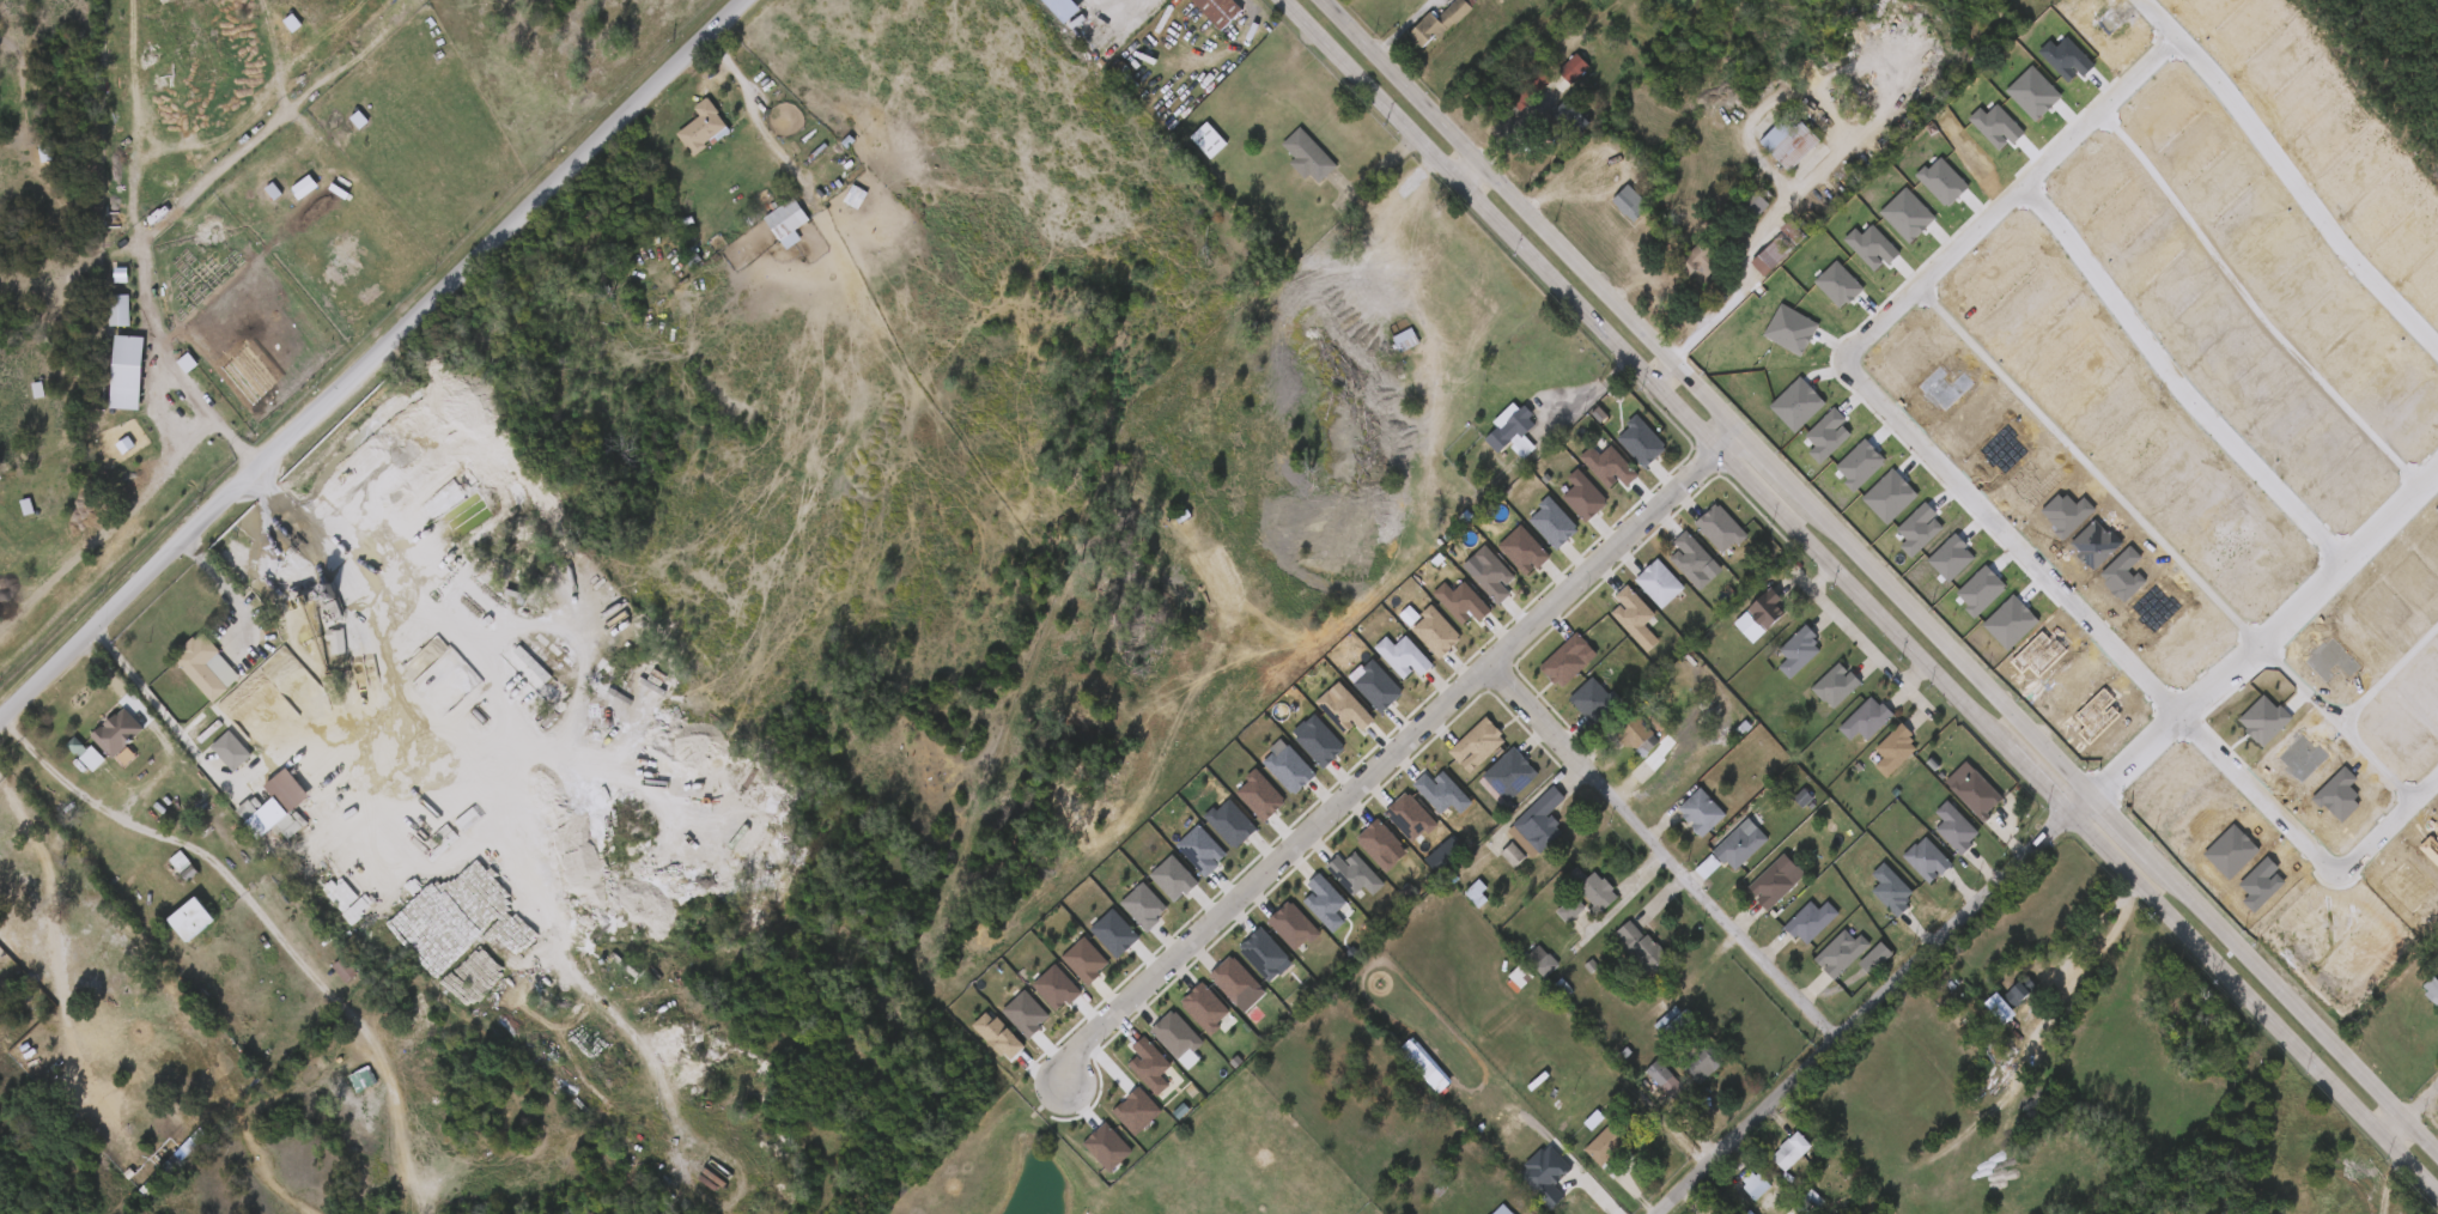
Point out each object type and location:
road: (1107, 10)
building: (1222, 10)
building: (1072, 12)
building: (1193, 16)
building: (1040, 17)
building: (1440, 23)
building: (1579, 66)
building: (1532, 87)
building: (1575, 119)
building: (703, 127)
building: (681, 139)
building: (1211, 140)
building: (1786, 141)
building: (1186, 151)
building: (1308, 154)
building: (1287, 166)
road: (1822, 169)
road: (1469, 177)
building: (1753, 204)
building: (1630, 205)
building: (786, 219)
building: (765, 232)
road: (1975, 235)
building: (1782, 247)
building: (1702, 262)
building: (98, 320)
road: (371, 363)
road: (169, 374)
road: (1661, 377)
building: (105, 383)
road: (2175, 384)
road: (1587, 401)
building: (1513, 430)
building: (1640, 438)
road: (1743, 461)
building: (1607, 463)
building: (1582, 493)
building: (1551, 520)
building: (1719, 524)
building: (1522, 546)
building: (1690, 556)
building: (1490, 571)
road: (1878, 578)
building: (1658, 581)
road: (1856, 597)
road: (2308, 602)
road: (360, 607)
building: (1764, 607)
building: (1631, 611)
building: (1437, 621)
building: (1796, 650)
building: (1567, 657)
building: (208, 666)
building: (1381, 667)
building: (186, 676)
building: (1834, 685)
building: (1356, 697)
building: (1715, 705)
road: (159, 708)
building: (87, 709)
building: (1864, 718)
building: (1324, 722)
building: (118, 732)
building: (1642, 734)
building: (1477, 740)
building: (97, 742)
building: (1893, 749)
building: (232, 751)
building: (1297, 752)
building: (209, 760)
building: (65, 764)
road: (2138, 767)
road: (1379, 771)
building: (1508, 771)
building: (1266, 777)
building: (1440, 789)
building: (1975, 794)
road: (92, 795)
building: (279, 802)
building: (1239, 806)
building: (1698, 812)
building: (255, 814)
building: (1398, 819)
building: (1953, 827)
building: (1540, 830)
building: (1209, 833)
building: (1738, 846)
building: (1510, 851)
road: (1665, 851)
building: (1357, 854)
road: (2302, 855)
building: (1925, 858)
building: (1179, 860)
road: (54, 867)
building: (1333, 885)
building: (1770, 885)
building: (1598, 887)
building: (1151, 888)
building: (1889, 890)
building: (1477, 891)
building: (1303, 912)
building: (1123, 916)
building: (193, 918)
building: (1808, 921)
building: (170, 929)
building: (1271, 936)
building: (1093, 943)
building: (1642, 951)
building: (1836, 953)
building: (1540, 959)
building: (1242, 964)
building: (1064, 970)
building: (1519, 975)
building: (323, 979)
building: (1212, 990)
building: (2019, 990)
building: (2433, 990)
building: (1034, 997)
road: (1871, 1003)
building: (1182, 1018)
building: (1004, 1024)
building: (1679, 1026)
building: (977, 1045)
building: (1154, 1045)
building: (1704, 1063)
building: (1127, 1075)
building: (1670, 1079)
road: (2422, 1109)
building: (1115, 1121)
road: (2391, 1131)
building: (1616, 1140)
building: (1787, 1151)
building: (1086, 1157)
building: (1544, 1173)
building: (1447, 1174)
road: (1571, 1178)
road: (1587, 1178)
building: (1757, 1189)
building: (1506, 1210)

